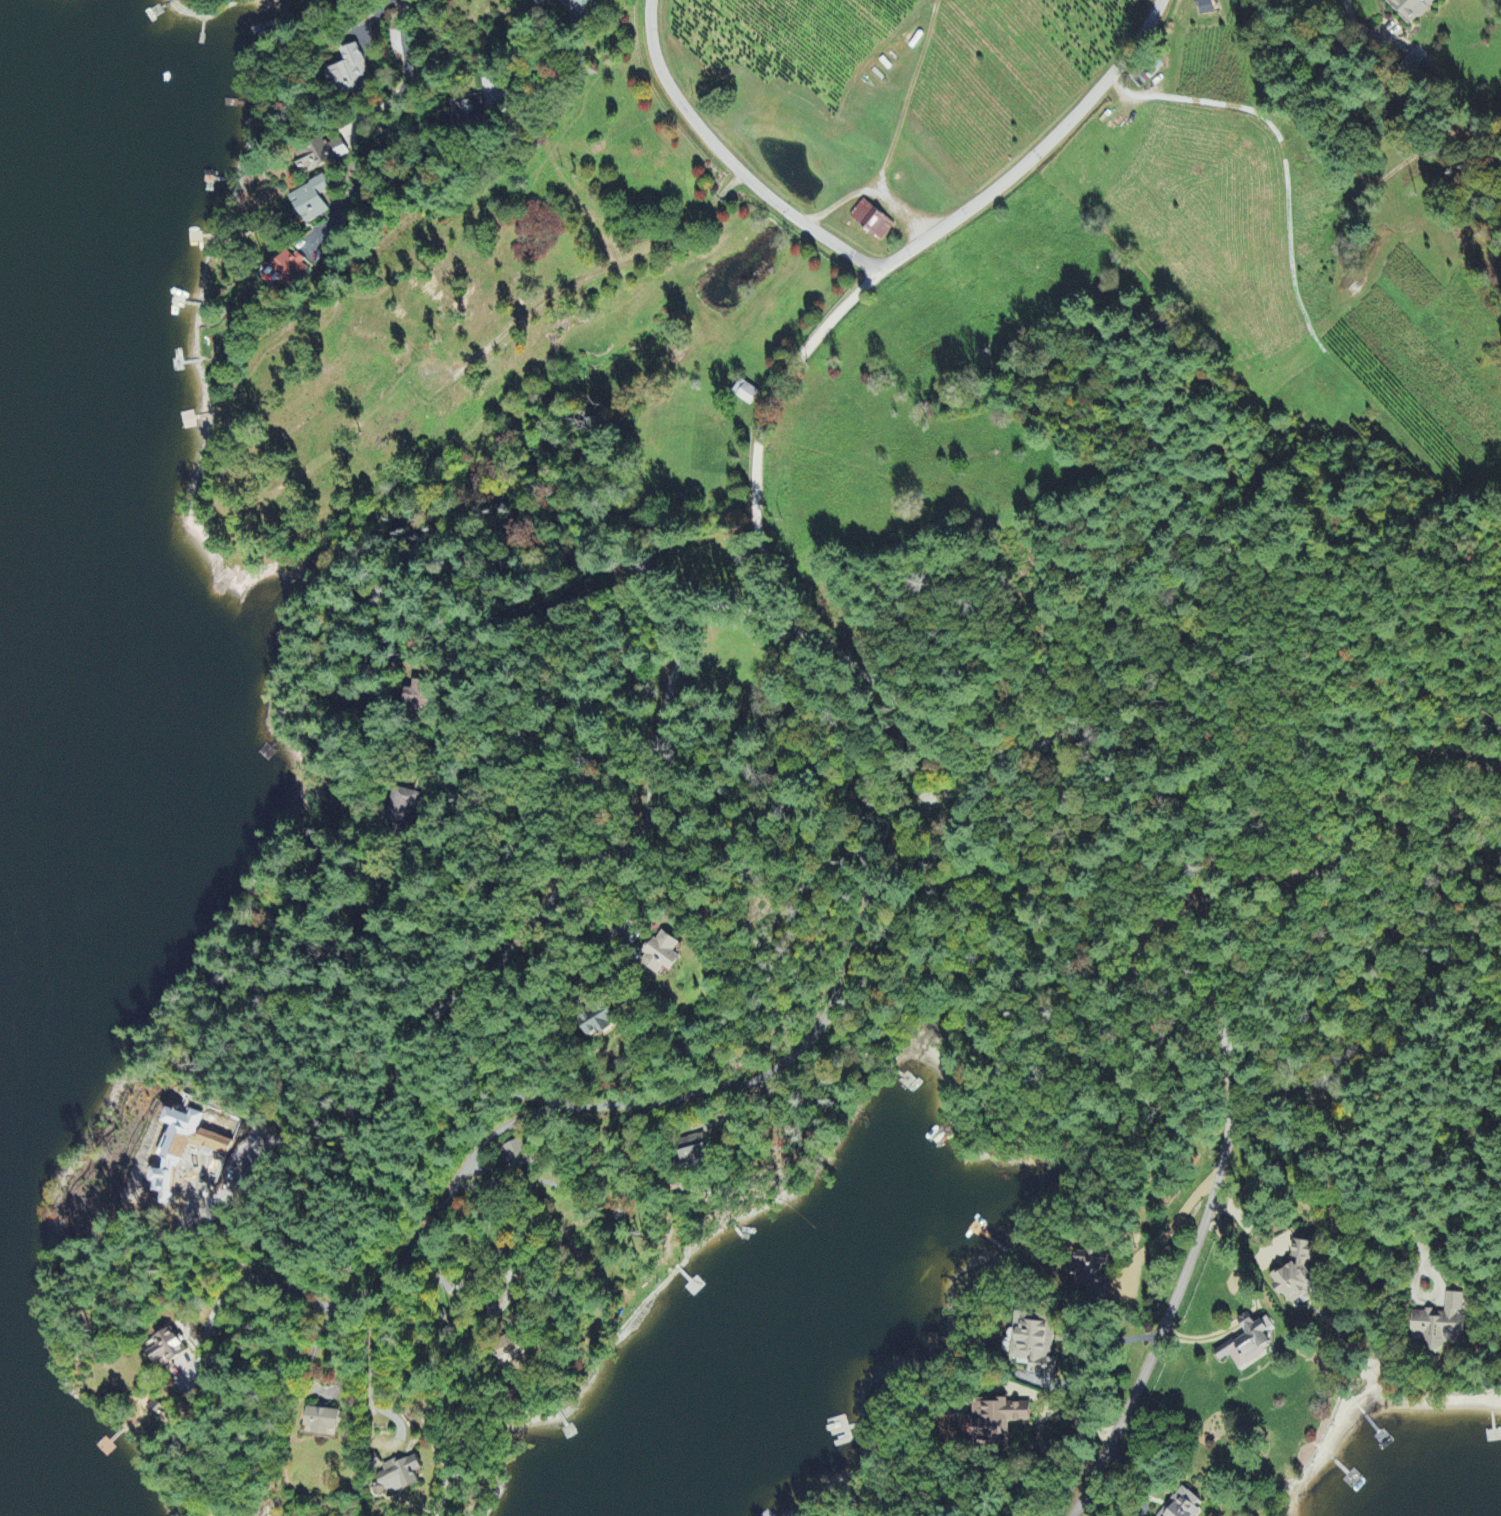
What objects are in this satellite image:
building: (583, 2)
building: (1205, 7)
building: (1411, 9)
road: (580, 16)
road: (403, 61)
building: (351, 74)
building: (466, 110)
building: (319, 156)
road: (729, 158)
building: (311, 201)
building: (872, 221)
building: (287, 271)
building: (745, 393)
river: (147, 571)
building: (420, 699)
road: (928, 710)
building: (402, 806)
building: (660, 955)
building: (595, 1022)
road: (675, 1100)
building: (693, 1151)
building: (515, 1157)
building: (1092, 1264)
building: (1296, 1275)
road: (1182, 1282)
building: (1441, 1325)
building: (1034, 1342)
building: (1247, 1343)
building: (166, 1349)
building: (507, 1351)
building: (155, 1411)
building: (996, 1417)
building: (321, 1423)
building: (398, 1478)
building: (1180, 1505)

